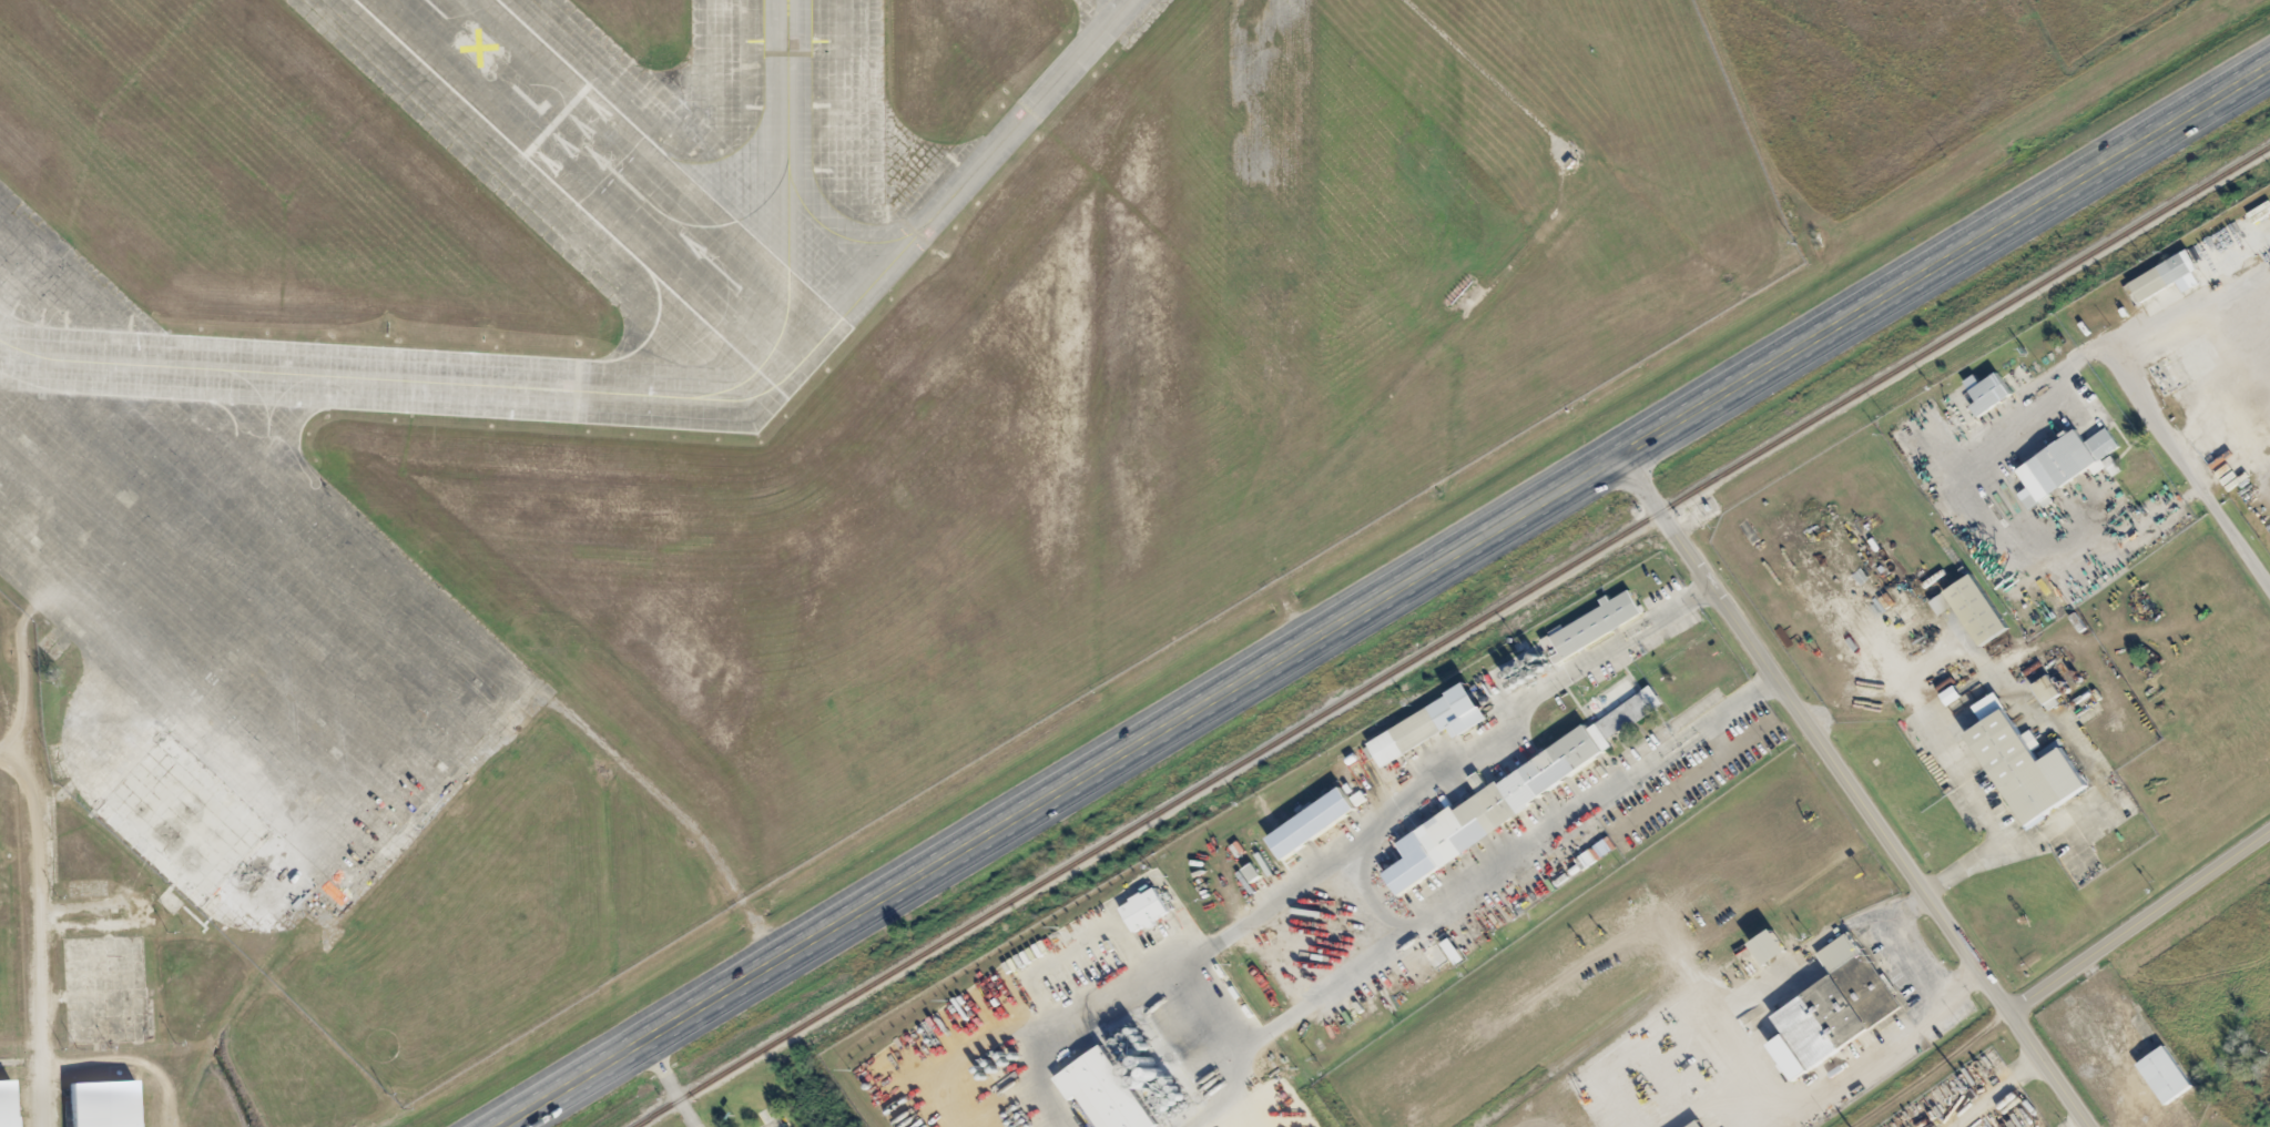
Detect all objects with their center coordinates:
airport runway: (492, 61)
airport taxiway: (787, 222)
airport taxiway: (730, 223)
airport taxiway: (836, 234)
airport taxiway: (699, 252)
building: (2168, 277)
building: (1989, 393)
airport taxiway: (648, 394)
airport: (742, 410)
road: (2187, 461)
building: (2068, 466)
airport apron: (231, 576)
road: (1385, 597)
building: (1943, 605)
building: (1978, 610)
building: (1597, 623)
railway: (1449, 637)
building: (2049, 692)
building: (1953, 696)
building: (1433, 724)
building: (2025, 765)
building: (1521, 790)
road: (1855, 792)
building: (182, 821)
building: (1319, 824)
road: (30, 881)
building: (1146, 910)
road: (2140, 924)
building: (1772, 946)
building: (1836, 1008)
road: (187, 1055)
building: (2167, 1074)
road: (669, 1084)
building: (1107, 1092)
building: (102, 1104)
building: (6, 1105)
building: (1699, 1124)
road: (775, 1126)

